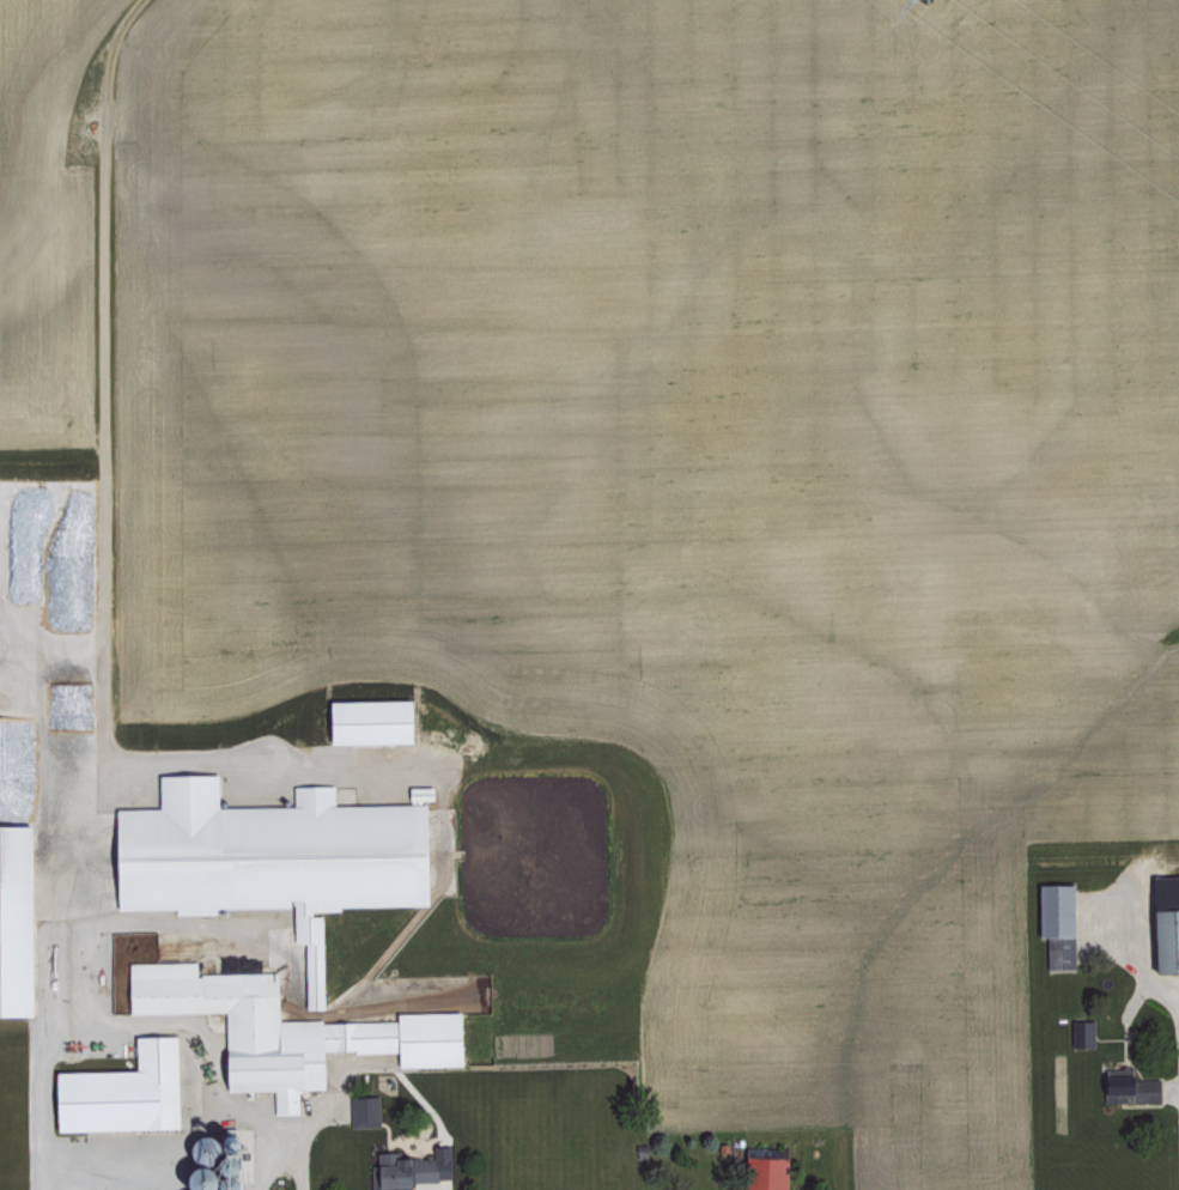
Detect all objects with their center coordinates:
building: (363, 718)
building: (262, 856)
building: (12, 917)
building: (1053, 921)
road: (144, 1020)
building: (280, 1027)
building: (1078, 1031)
building: (1126, 1088)
building: (118, 1089)
road: (1175, 1098)
building: (360, 1109)
road: (259, 1158)
building: (406, 1168)
building: (762, 1168)

